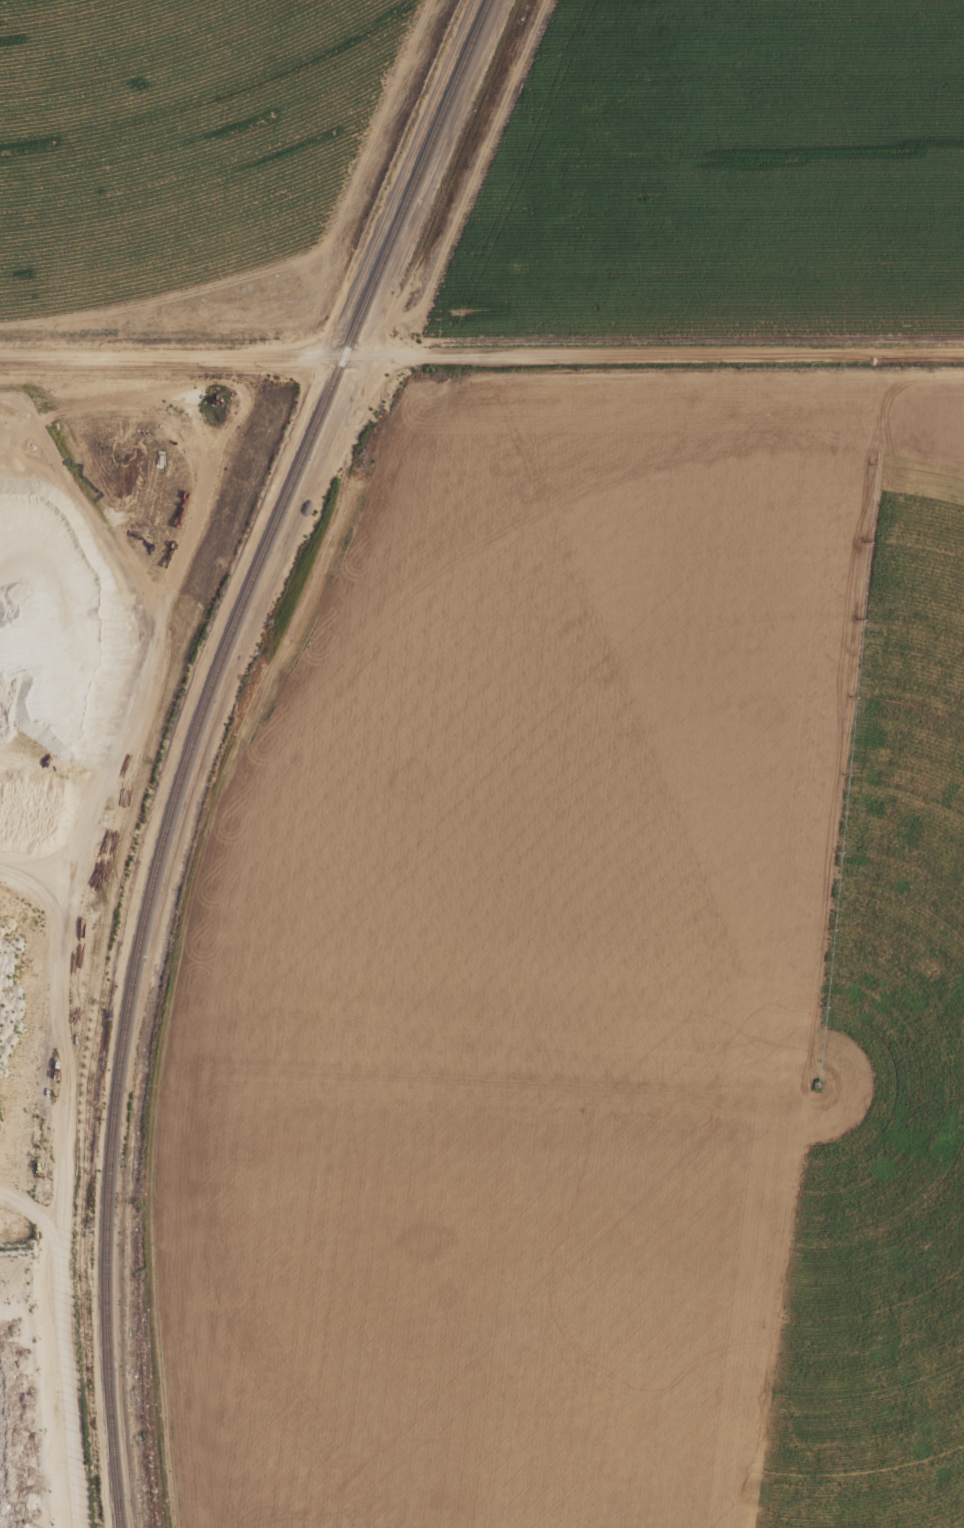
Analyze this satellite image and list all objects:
crop: (172, 136)
railway: (416, 178)
road: (469, 178)
road: (295, 258)
road: (481, 355)
road: (39, 427)
road: (214, 549)
road: (158, 628)
road: (74, 847)
road: (193, 925)
railway: (142, 926)
crop: (914, 1063)
road: (824, 1072)
road: (59, 1181)
road: (28, 1211)

